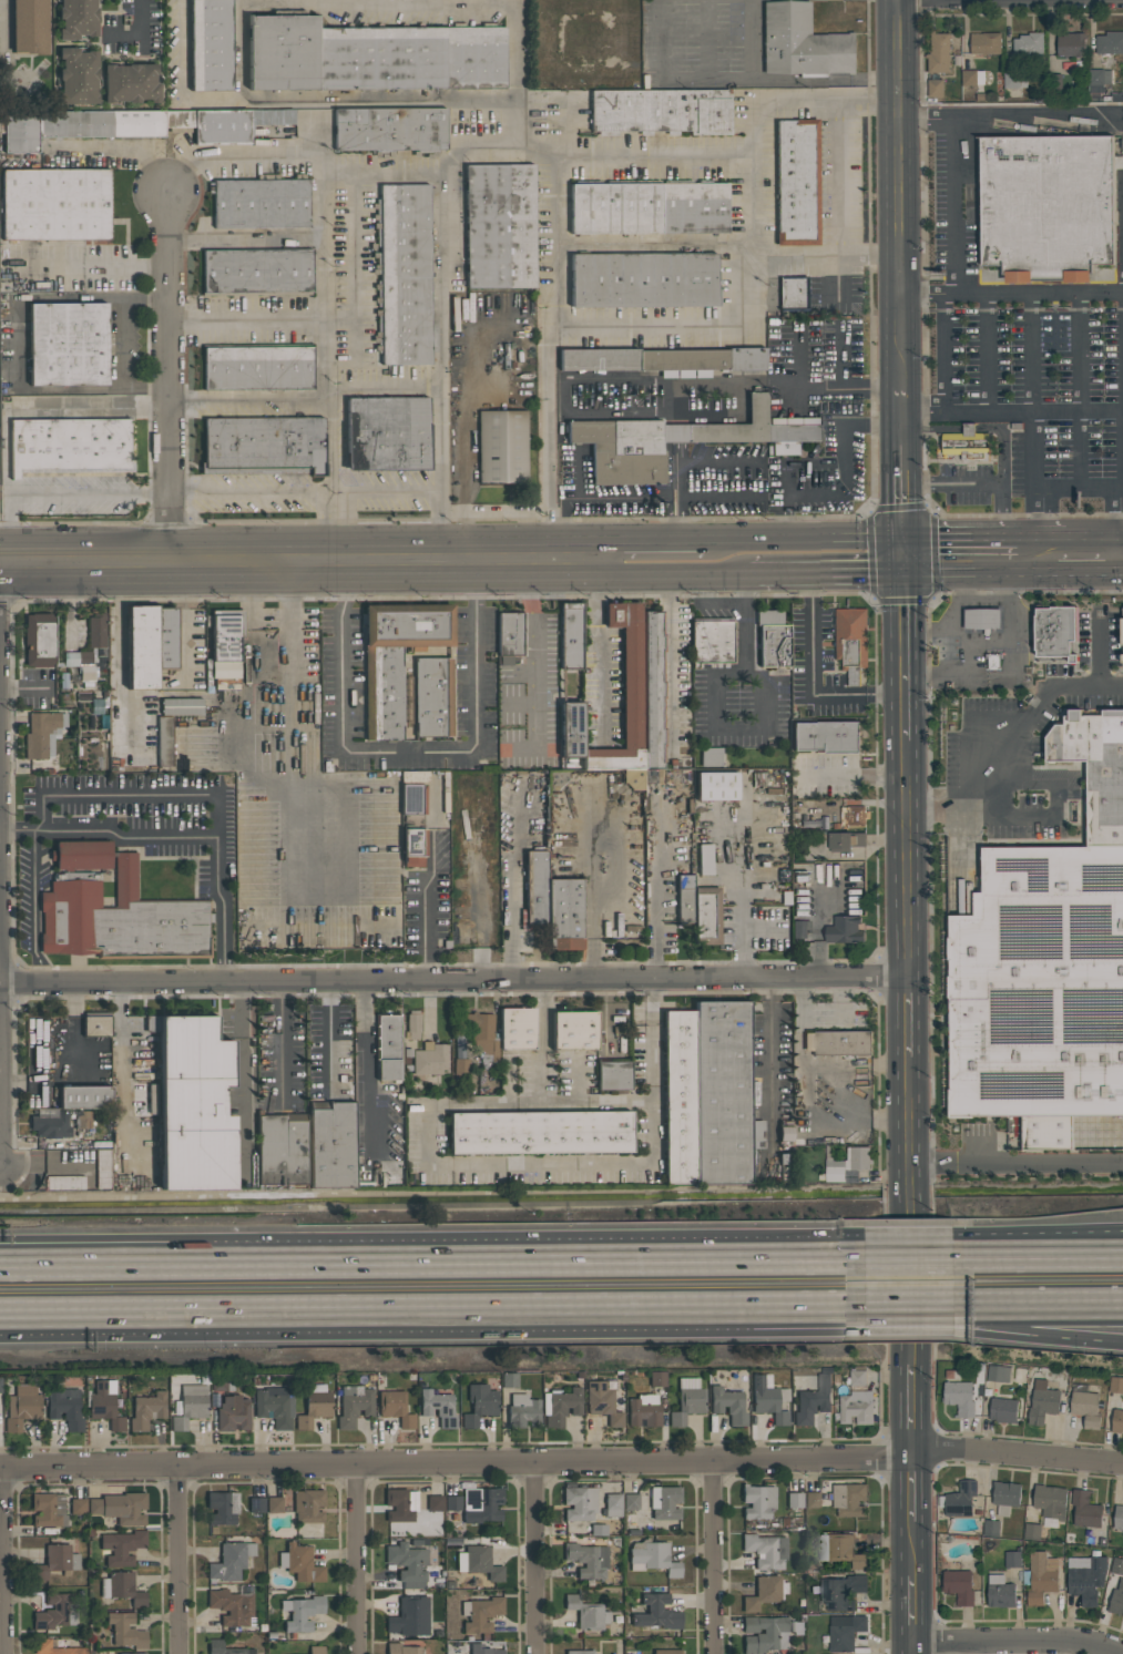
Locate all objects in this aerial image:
road: (379, 1)
building: (76, 18)
road: (4, 25)
building: (30, 25)
road: (141, 31)
building: (802, 42)
building: (984, 43)
building: (1110, 43)
building: (210, 44)
building: (1071, 44)
building: (1029, 45)
building: (938, 52)
road: (243, 53)
building: (371, 55)
building: (78, 75)
road: (514, 75)
road: (180, 78)
building: (972, 78)
building: (1098, 80)
building: (1014, 81)
building: (130, 82)
road: (788, 82)
building: (935, 89)
road: (826, 95)
road: (378, 103)
building: (661, 111)
road: (1009, 119)
building: (136, 124)
road: (757, 124)
building: (389, 129)
road: (120, 147)
road: (455, 157)
road: (839, 175)
building: (797, 181)
road: (898, 193)
building: (261, 203)
building: (55, 204)
building: (649, 207)
road: (957, 207)
building: (1048, 207)
building: (499, 225)
road: (247, 241)
road: (655, 241)
road: (827, 256)
road: (94, 268)
building: (257, 270)
building: (405, 273)
building: (643, 279)
building: (793, 293)
road: (1033, 296)
road: (249, 319)
road: (439, 326)
road: (742, 327)
road: (945, 333)
road: (119, 344)
road: (21, 345)
building: (69, 345)
road: (553, 355)
building: (662, 359)
road: (333, 360)
building: (258, 367)
road: (170, 374)
road: (843, 389)
road: (253, 402)
road: (696, 412)
road: (1012, 415)
road: (970, 430)
road: (932, 431)
building: (387, 432)
building: (675, 440)
road: (1004, 441)
road: (1121, 442)
building: (69, 445)
building: (263, 445)
building: (502, 447)
building: (969, 448)
road: (1034, 453)
road: (681, 461)
road: (901, 469)
road: (786, 470)
road: (988, 481)
road: (1119, 487)
road: (256, 489)
road: (1049, 490)
road: (420, 491)
road: (60, 493)
road: (764, 535)
road: (846, 535)
road: (696, 537)
road: (727, 537)
road: (632, 538)
road: (986, 551)
road: (1011, 551)
road: (1031, 551)
road: (1053, 551)
road: (1083, 551)
road: (1113, 551)
traffic signals: (902, 552)
road: (935, 552)
road: (298, 557)
road: (825, 573)
road: (666, 575)
road: (987, 602)
road: (958, 610)
building: (981, 620)
building: (96, 630)
building: (1056, 633)
building: (510, 635)
building: (571, 635)
building: (851, 637)
building: (773, 639)
building: (1122, 639)
building: (39, 640)
building: (712, 641)
building: (225, 642)
building: (150, 644)
road: (598, 646)
road: (903, 646)
road: (1099, 649)
road: (945, 653)
building: (396, 657)
road: (532, 657)
road: (670, 662)
building: (80, 663)
road: (1010, 664)
road: (803, 686)
road: (714, 694)
building: (432, 696)
building: (625, 696)
building: (181, 706)
building: (42, 734)
building: (826, 736)
building: (164, 741)
road: (1011, 747)
road: (407, 751)
building: (711, 756)
building: (1095, 769)
road: (851, 779)
building: (716, 786)
road: (132, 795)
building: (412, 798)
building: (854, 816)
road: (109, 831)
building: (844, 841)
building: (412, 846)
building: (81, 854)
road: (906, 857)
building: (704, 859)
road: (724, 862)
road: (596, 892)
road: (657, 902)
road: (421, 903)
building: (552, 905)
road: (34, 908)
road: (223, 908)
road: (511, 908)
building: (698, 908)
building: (123, 919)
road: (818, 925)
road: (760, 928)
building: (799, 928)
building: (844, 929)
road: (743, 940)
road: (453, 979)
building: (1040, 987)
road: (907, 1015)
road: (604, 1017)
building: (412, 1024)
building: (96, 1025)
building: (515, 1028)
building: (574, 1030)
building: (481, 1035)
road: (329, 1038)
road: (282, 1041)
road: (540, 1042)
building: (838, 1042)
building: (387, 1045)
building: (430, 1059)
road: (768, 1061)
road: (121, 1062)
road: (241, 1064)
road: (366, 1068)
building: (614, 1075)
building: (723, 1094)
building: (85, 1096)
building: (678, 1097)
building: (193, 1106)
building: (50, 1123)
building: (540, 1132)
building: (785, 1133)
building: (1072, 1133)
building: (330, 1146)
building: (282, 1152)
road: (491, 1165)
road: (1014, 1165)
building: (102, 1168)
building: (64, 1183)
road: (907, 1212)
road: (1039, 1233)
road: (913, 1240)
road: (78, 1249)
road: (810, 1249)
road: (78, 1256)
road: (452, 1256)
road: (809, 1256)
road: (912, 1256)
road: (1039, 1256)
road: (1039, 1310)
road: (912, 1311)
road: (839, 1313)
road: (473, 1315)
road: (838, 1316)
road: (69, 1317)
road: (69, 1321)
road: (911, 1325)
road: (1039, 1335)
building: (998, 1374)
building: (657, 1378)
building: (510, 1379)
building: (857, 1379)
building: (0, 1384)
building: (1115, 1385)
building: (959, 1398)
building: (687, 1399)
building: (813, 1399)
building: (767, 1400)
building: (602, 1401)
building: (729, 1401)
building: (1042, 1402)
building: (479, 1403)
building: (105, 1405)
building: (354, 1405)
building: (561, 1405)
building: (22, 1406)
building: (190, 1406)
building: (275, 1406)
building: (314, 1406)
building: (395, 1407)
building: (438, 1407)
building: (856, 1407)
building: (64, 1408)
building: (1085, 1408)
building: (644, 1409)
building: (146, 1410)
building: (522, 1410)
road: (909, 1410)
building: (1002, 1410)
building: (233, 1412)
building: (1116, 1421)
road: (1015, 1454)
road: (455, 1462)
road: (910, 1489)
building: (1005, 1497)
building: (813, 1499)
building: (757, 1500)
building: (795, 1500)
building: (848, 1500)
building: (961, 1500)
building: (631, 1501)
building: (1050, 1501)
building: (452, 1502)
building: (664, 1502)
building: (274, 1503)
building: (579, 1503)
building: (256, 1504)
building: (308, 1504)
building: (400, 1504)
building: (481, 1504)
building: (613, 1504)
building: (78, 1505)
building: (120, 1507)
building: (223, 1507)
building: (49, 1509)
building: (435, 1509)
building: (1085, 1509)
building: (1117, 1518)
building: (991, 1529)
building: (1032, 1532)
building: (1122, 1534)
building: (121, 1546)
road: (910, 1549)
building: (766, 1550)
building: (840, 1550)
road: (351, 1558)
road: (533, 1558)
building: (652, 1558)
road: (708, 1559)
building: (588, 1560)
building: (1012, 1560)
road: (2, 1561)
building: (54, 1561)
road: (177, 1561)
building: (229, 1561)
building: (299, 1562)
building: (479, 1562)
building: (408, 1563)
building: (1116, 1565)
building: (1041, 1578)
building: (1085, 1578)
building: (958, 1586)
building: (122, 1587)
building: (765, 1592)
building: (841, 1592)
building: (999, 1592)
building: (1116, 1600)
building: (231, 1605)
road: (910, 1609)
building: (54, 1611)
building: (302, 1612)
building: (586, 1612)
building: (656, 1612)
building: (480, 1613)
building: (409, 1616)
building: (126, 1630)
building: (844, 1632)
building: (764, 1634)
road: (1018, 1641)
building: (215, 1643)
road: (949, 1647)
building: (54, 1648)
building: (402, 1648)
road: (911, 1648)
building: (316, 1650)
building: (483, 1650)
building: (667, 1651)
building: (579, 1652)
building: (132, 1653)

